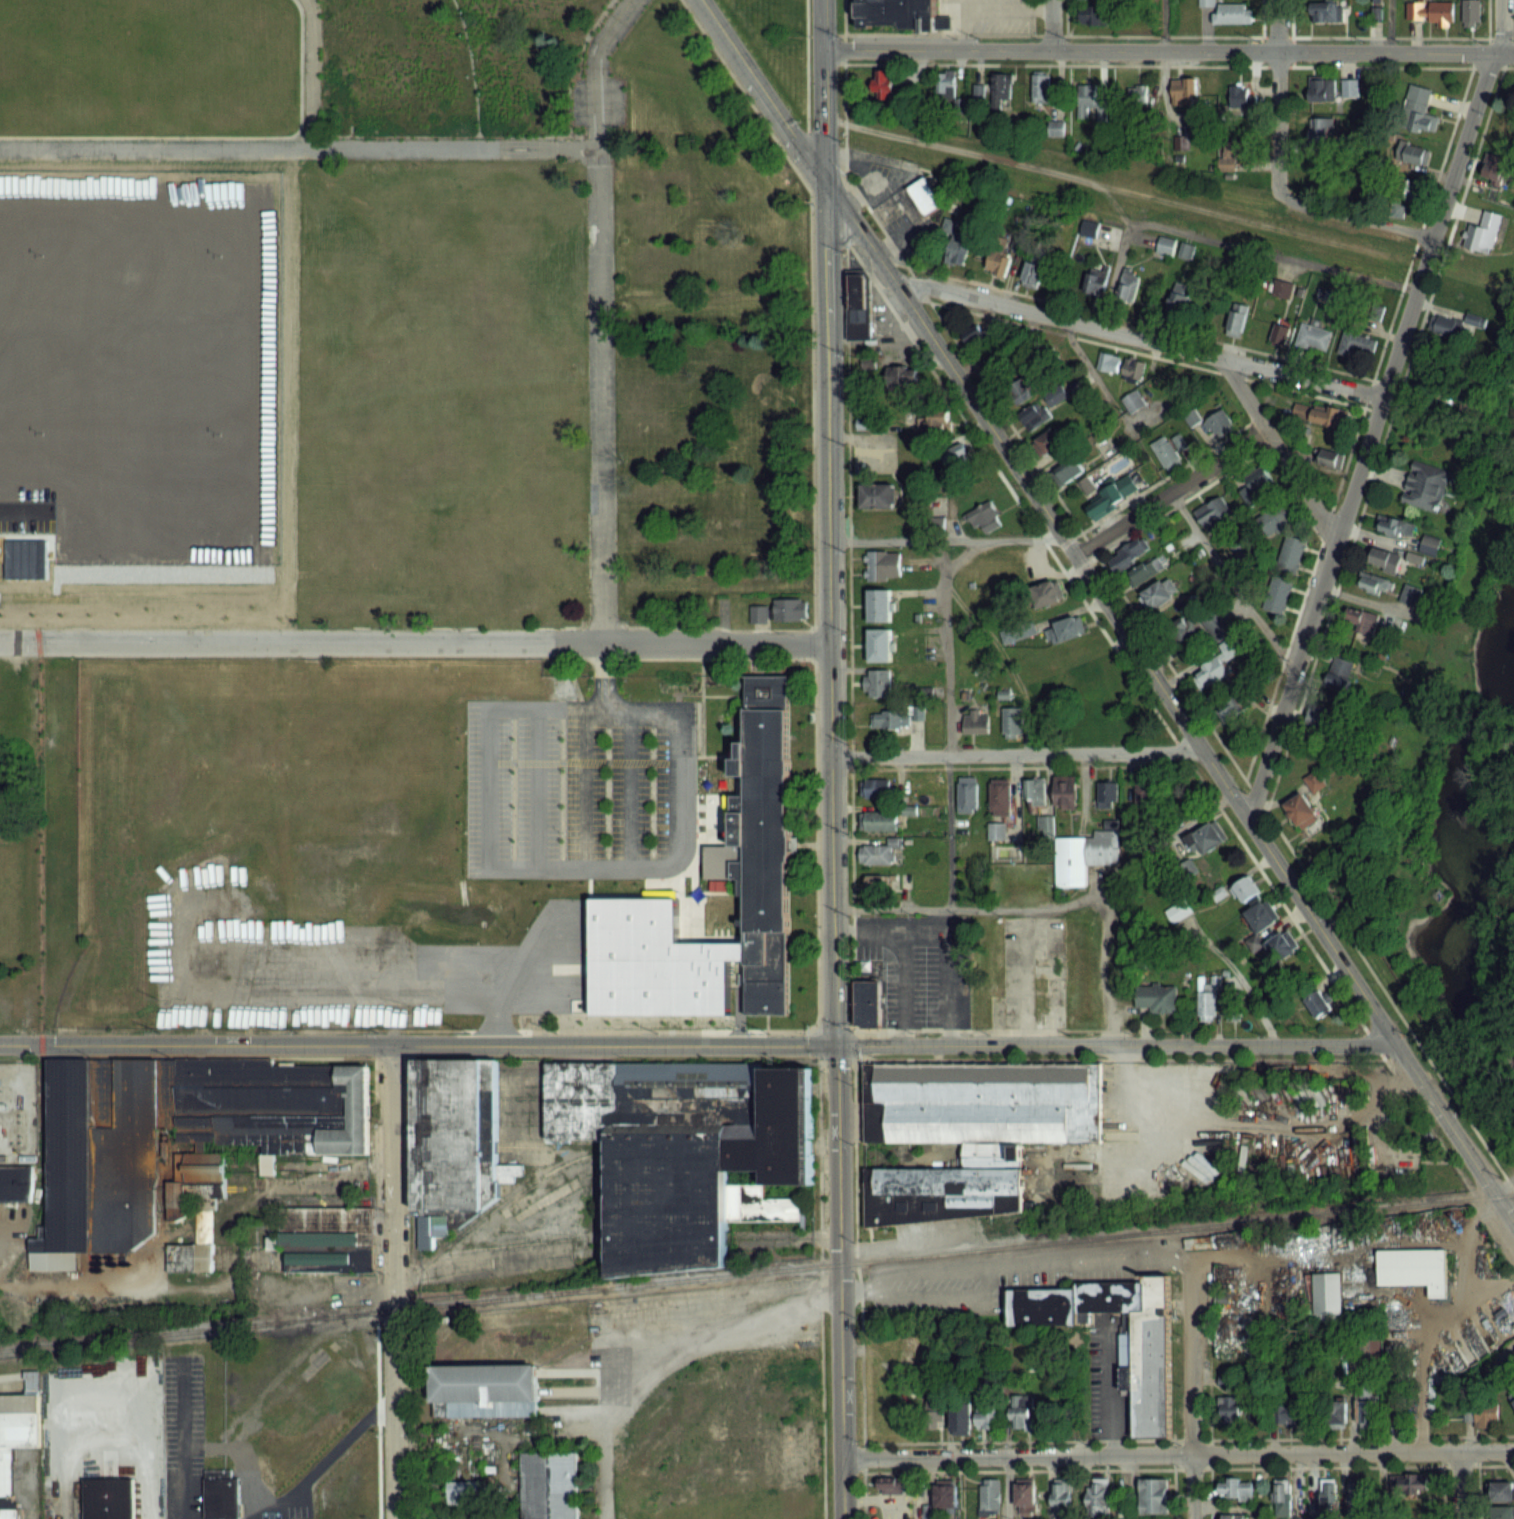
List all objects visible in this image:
road: (1006, 7)
building: (1431, 11)
building: (1327, 12)
building: (894, 13)
building: (1471, 13)
building: (1231, 14)
building: (1092, 15)
road: (962, 24)
road: (1050, 24)
road: (1162, 25)
road: (1276, 25)
road: (1387, 26)
road: (1167, 50)
road: (309, 74)
building: (882, 83)
building: (946, 85)
building: (1001, 86)
building: (1040, 88)
building: (1349, 88)
building: (1322, 89)
building: (1184, 92)
building: (1086, 97)
building: (1137, 97)
building: (1241, 98)
building: (1419, 110)
building: (1318, 131)
road: (298, 148)
building: (1412, 153)
building: (1227, 163)
building: (1494, 167)
traffic signals: (822, 180)
building: (921, 194)
building: (1401, 195)
road: (1286, 197)
power substation: (96, 204)
building: (1484, 232)
road: (1219, 239)
building: (1166, 245)
building: (956, 250)
building: (1185, 250)
building: (998, 264)
building: (1034, 271)
building: (1094, 282)
building: (1128, 286)
building: (1282, 289)
building: (1174, 300)
building: (855, 304)
road: (598, 316)
building: (1237, 320)
building: (1452, 326)
building: (1280, 334)
building: (976, 336)
building: (1313, 337)
road: (1137, 339)
building: (1354, 344)
building: (998, 362)
building: (1108, 362)
building: (1133, 368)
building: (902, 378)
road: (942, 390)
building: (1133, 402)
road: (1376, 408)
building: (1320, 415)
building: (1036, 416)
building: (1192, 418)
building: (934, 422)
road: (1357, 422)
building: (1219, 423)
road: (1382, 437)
building: (1048, 443)
road: (1275, 449)
building: (1168, 451)
building: (957, 458)
building: (1328, 460)
building: (1068, 471)
building: (1425, 485)
building: (1254, 487)
road: (1168, 492)
building: (878, 494)
building: (1107, 495)
building: (1214, 513)
building: (984, 517)
building: (1395, 525)
building: (881, 527)
road: (946, 538)
building: (1429, 545)
road: (963, 553)
building: (1291, 554)
building: (1128, 555)
building: (1384, 559)
building: (883, 564)
building: (1144, 572)
road: (1229, 580)
building: (1374, 583)
building: (1048, 593)
building: (1410, 594)
building: (1158, 595)
building: (1278, 595)
building: (880, 604)
road: (1108, 608)
building: (790, 610)
building: (760, 614)
building: (1360, 622)
building: (1065, 629)
road: (415, 641)
building: (881, 643)
building: (1340, 673)
road: (603, 674)
building: (1211, 676)
building: (877, 681)
road: (1179, 682)
building: (1236, 704)
building: (916, 714)
building: (1318, 717)
building: (890, 718)
road: (946, 719)
building: (976, 721)
building: (1012, 722)
road: (1016, 753)
road: (831, 759)
building: (1315, 781)
building: (875, 788)
building: (1035, 790)
building: (1065, 791)
building: (1108, 792)
building: (1144, 792)
building: (967, 794)
building: (1000, 796)
building: (1301, 810)
building: (879, 821)
building: (1046, 826)
building: (1208, 837)
building: (755, 842)
parking lot: (627, 843)
road: (626, 852)
building: (879, 853)
building: (1085, 856)
building: (878, 886)
building: (1246, 890)
road: (1277, 898)
road: (1047, 908)
building: (1178, 912)
road: (947, 917)
building: (1262, 917)
building: (1009, 923)
road: (946, 929)
building: (1282, 945)
road: (1100, 967)
road: (902, 986)
road: (651, 997)
building: (1158, 998)
road: (522, 1000)
building: (1207, 1000)
building: (865, 1002)
building: (1317, 1004)
building: (1232, 1005)
road: (699, 1045)
traffic signals: (838, 1045)
building: (979, 1101)
power substation: (17, 1111)
building: (453, 1132)
building: (682, 1149)
building: (99, 1163)
building: (15, 1182)
building: (945, 1186)
building: (193, 1206)
building: (327, 1239)
road: (925, 1240)
road: (1094, 1254)
building: (1411, 1267)
road: (930, 1270)
railway: (757, 1271)
road: (985, 1281)
road: (394, 1282)
road: (857, 1291)
building: (1325, 1292)
road: (924, 1296)
building: (1148, 1345)
road: (662, 1354)
building: (482, 1389)
road: (1191, 1392)
building: (1512, 1395)
building: (1374, 1406)
building: (1230, 1410)
building: (1337, 1411)
building: (1022, 1412)
building: (1286, 1412)
building: (1487, 1414)
building: (933, 1418)
building: (986, 1419)
building: (961, 1420)
building: (14, 1438)
road: (108, 1444)
road: (333, 1450)
road: (1178, 1456)
road: (1476, 1463)
road: (1172, 1478)
road: (1208, 1478)
building: (546, 1484)
road: (1462, 1485)
building: (1410, 1486)
road: (1005, 1488)
building: (1236, 1488)
building: (1501, 1490)
building: (464, 1491)
building: (1357, 1492)
road: (1440, 1492)
building: (218, 1493)
building: (990, 1493)
building: (1328, 1494)
building: (1025, 1495)
building: (946, 1496)
building: (1154, 1496)
building: (1061, 1497)
building: (1281, 1497)
building: (106, 1498)
building: (1097, 1499)
building: (1503, 1512)
building: (1233, 1516)

